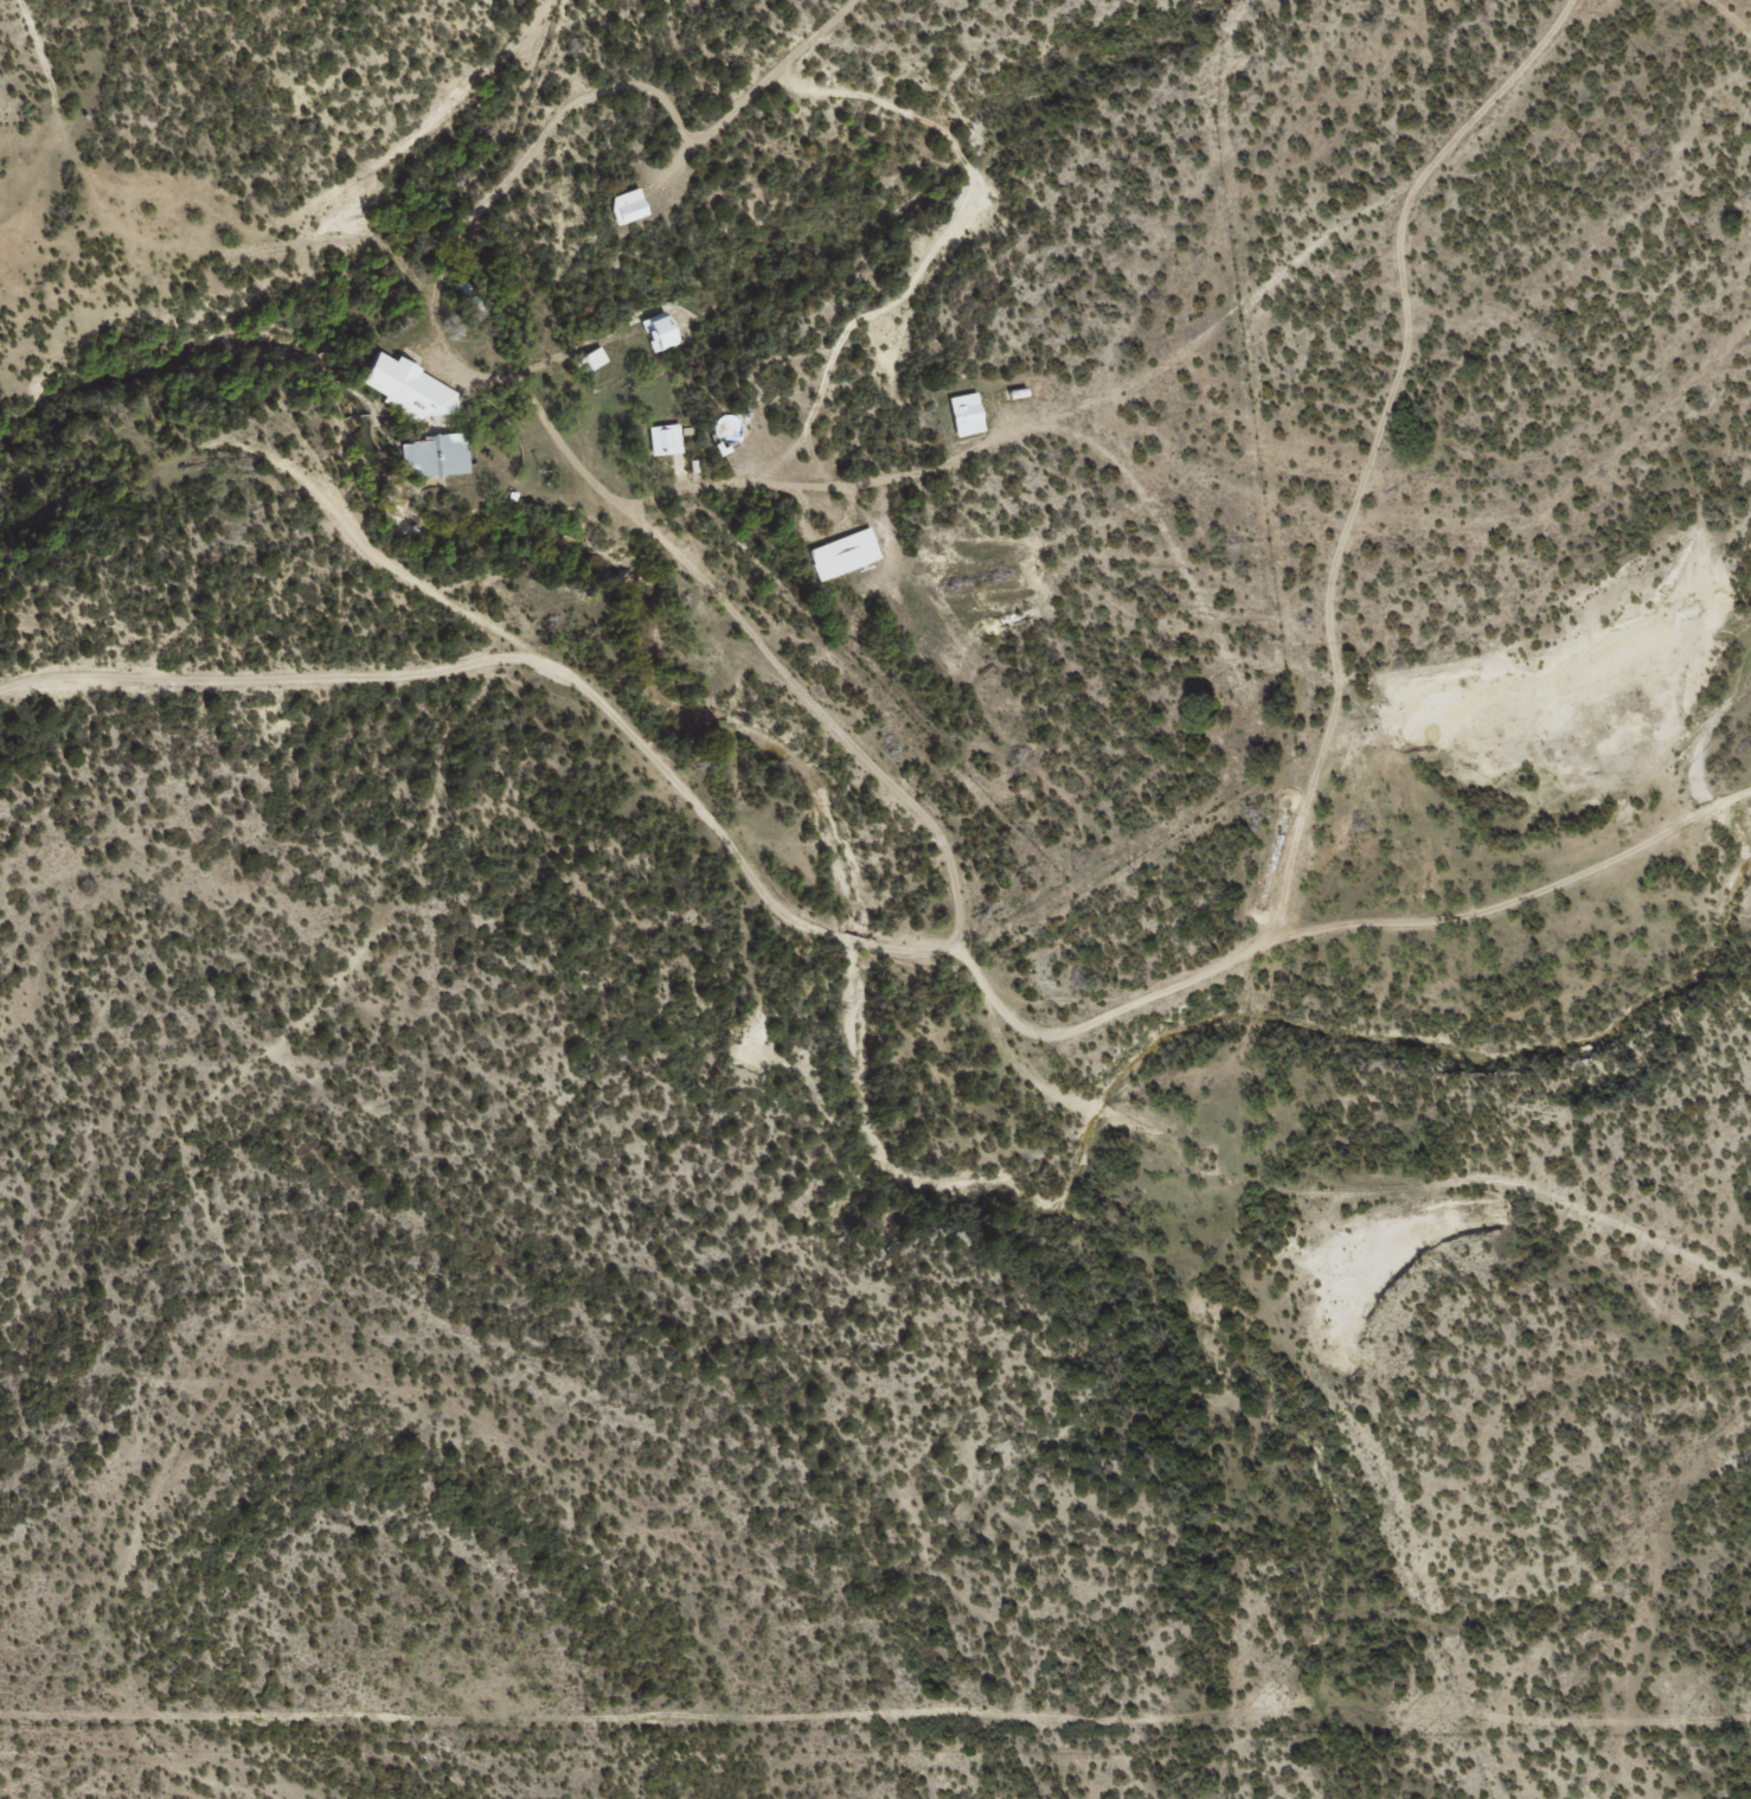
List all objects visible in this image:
road: (1736, 9)
building: (623, 205)
building: (656, 332)
road: (1208, 374)
building: (400, 385)
building: (961, 414)
building: (663, 438)
building: (841, 552)
road: (778, 709)
road: (800, 948)
road: (929, 1129)

